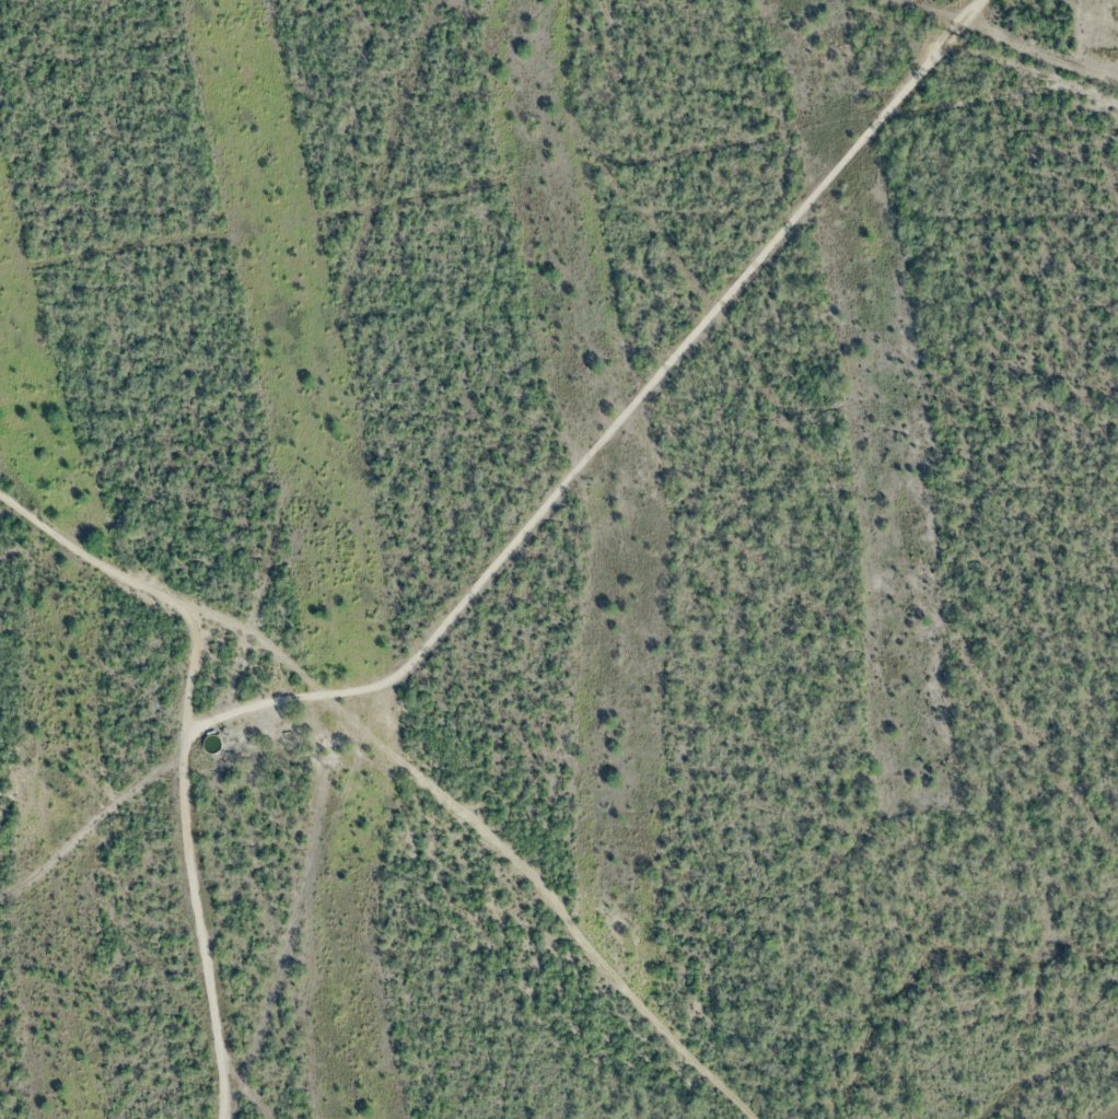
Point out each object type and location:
road: (398, 771)

